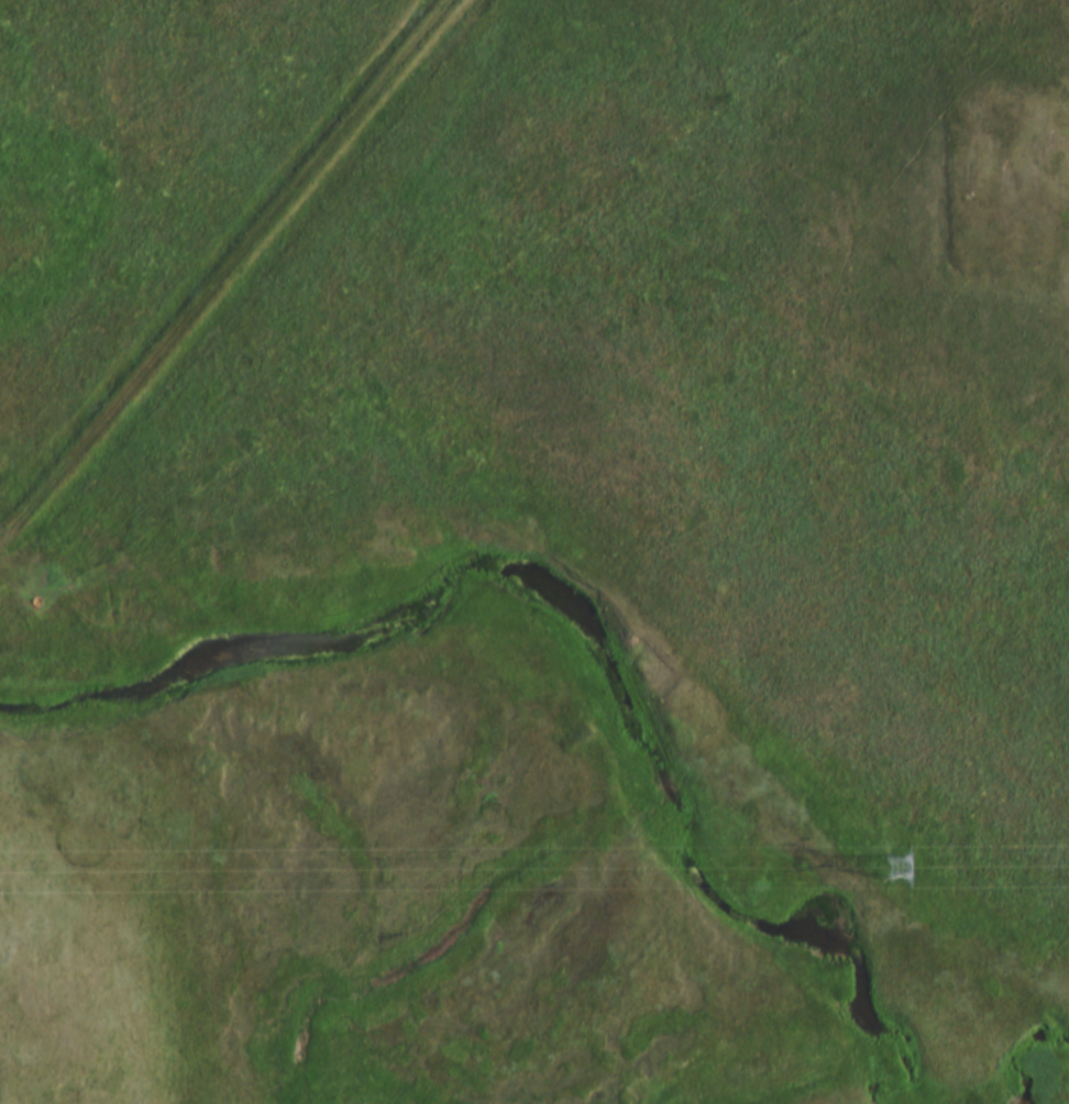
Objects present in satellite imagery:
road: (230, 269)
road: (102, 808)
power tower: (881, 879)

